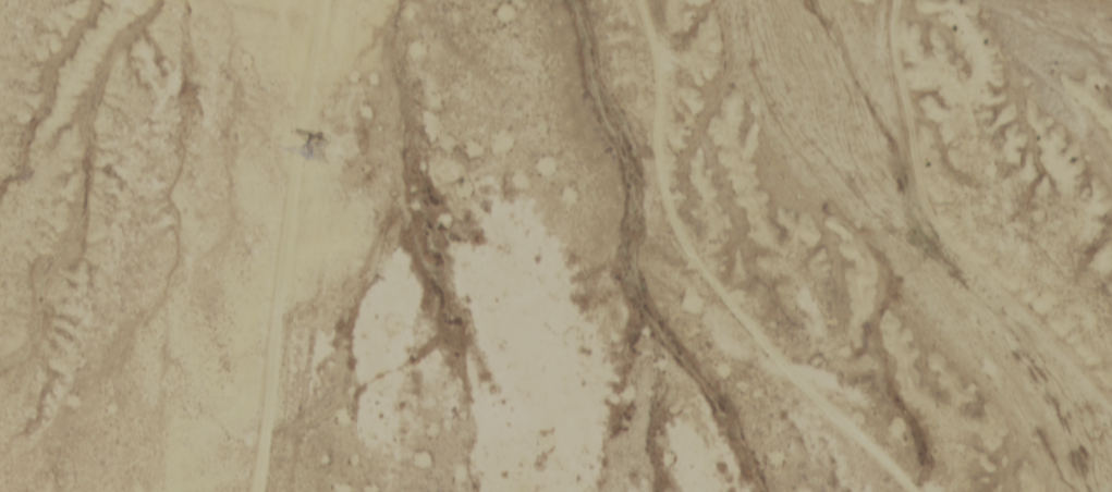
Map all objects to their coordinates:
power tower: (314, 155)
river: (920, 243)

